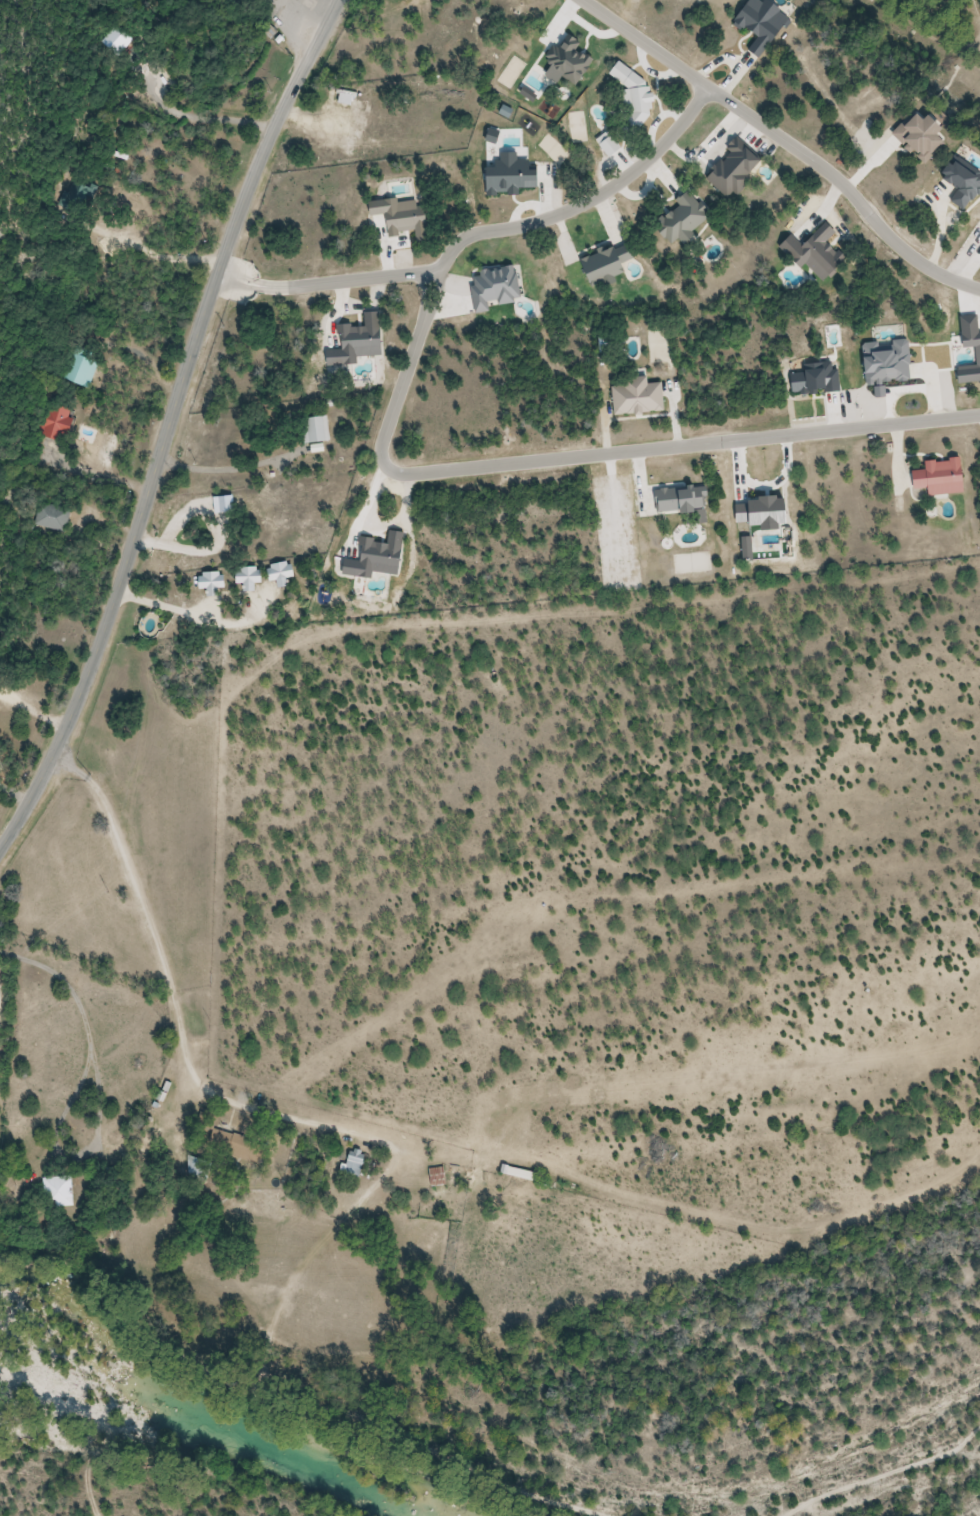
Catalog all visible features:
building: (117, 39)
building: (447, 111)
road: (785, 141)
building: (80, 197)
road: (486, 233)
road: (330, 283)
building: (82, 370)
road: (173, 429)
building: (317, 432)
road: (683, 447)
building: (936, 477)
building: (52, 517)
building: (285, 574)
building: (251, 579)
building: (215, 583)
road: (193, 1055)
building: (356, 1163)
building: (521, 1173)
river: (193, 1418)

